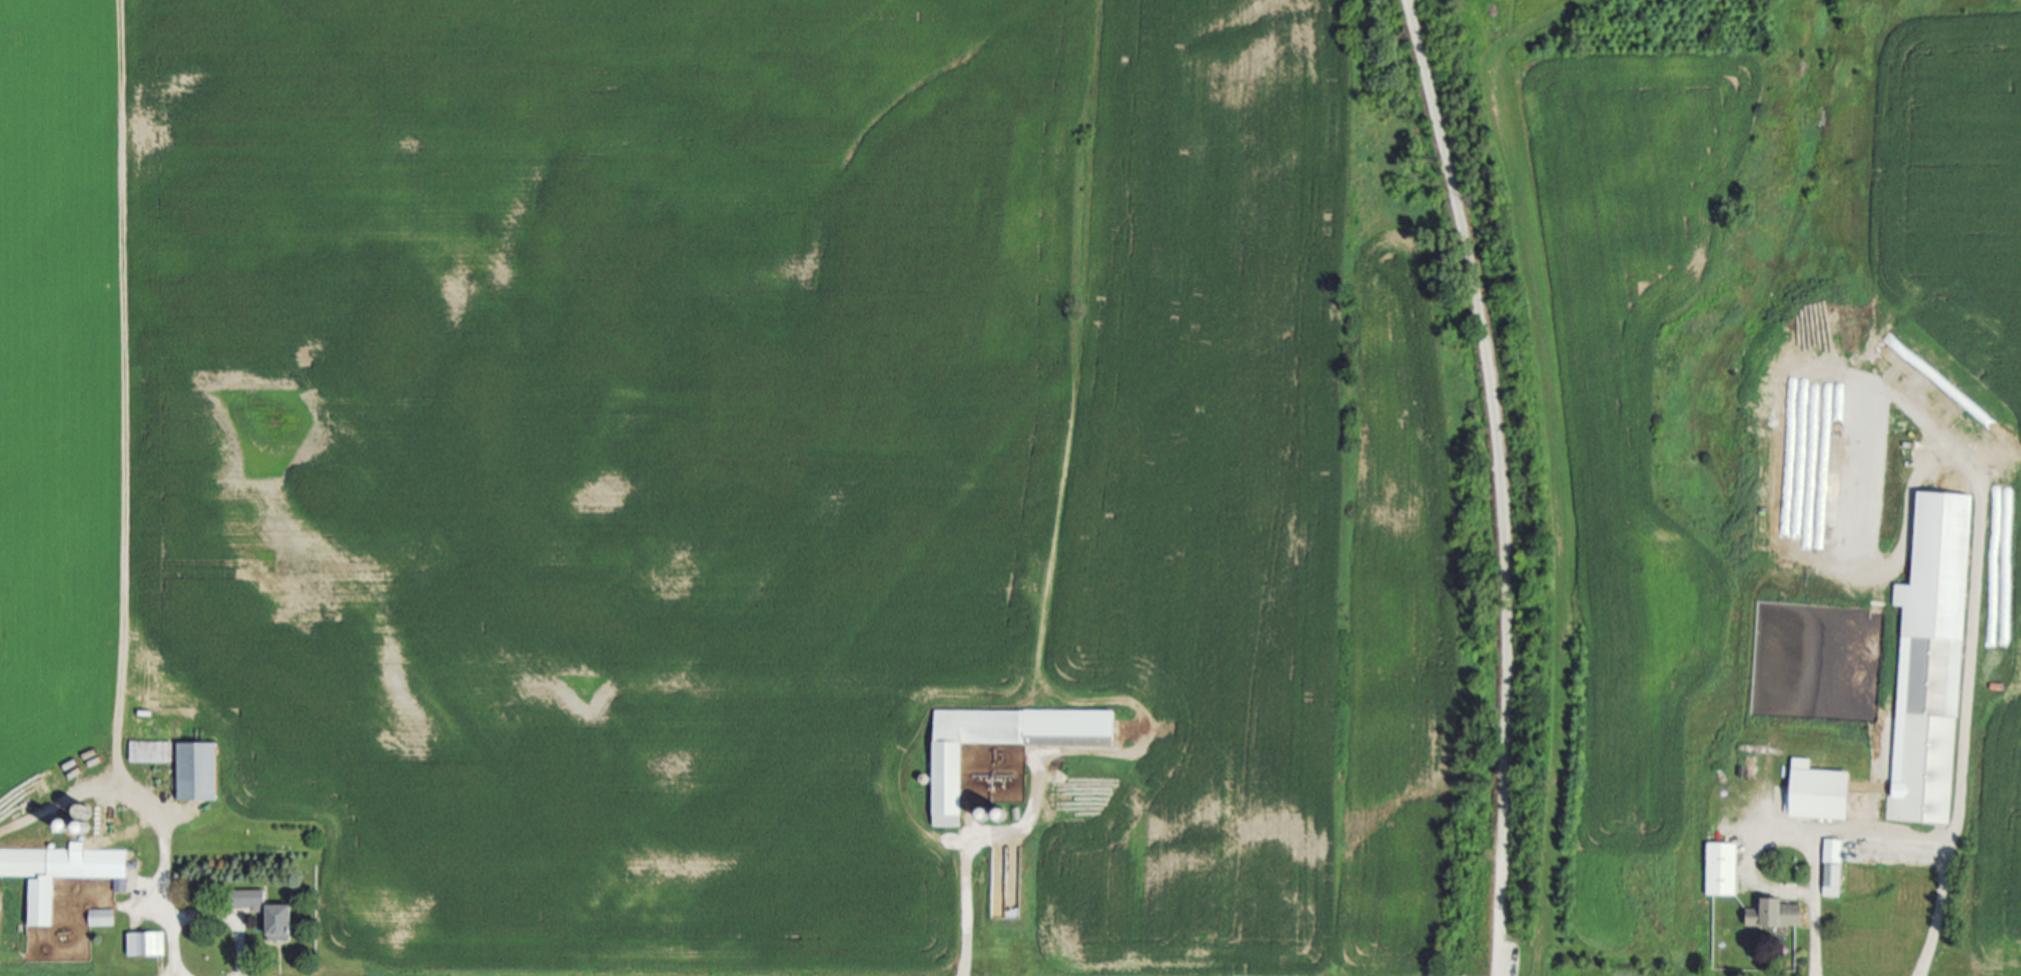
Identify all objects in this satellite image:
road: (1517, 484)
road: (122, 651)
building: (1934, 663)
road: (1777, 696)
building: (152, 752)
building: (201, 772)
building: (952, 787)
building: (1821, 793)
road: (1866, 832)
building: (1833, 866)
building: (1723, 870)
building: (61, 873)
road: (1813, 903)
road: (966, 907)
building: (274, 915)
building: (1777, 915)
road: (202, 916)
building: (103, 918)
building: (148, 945)

